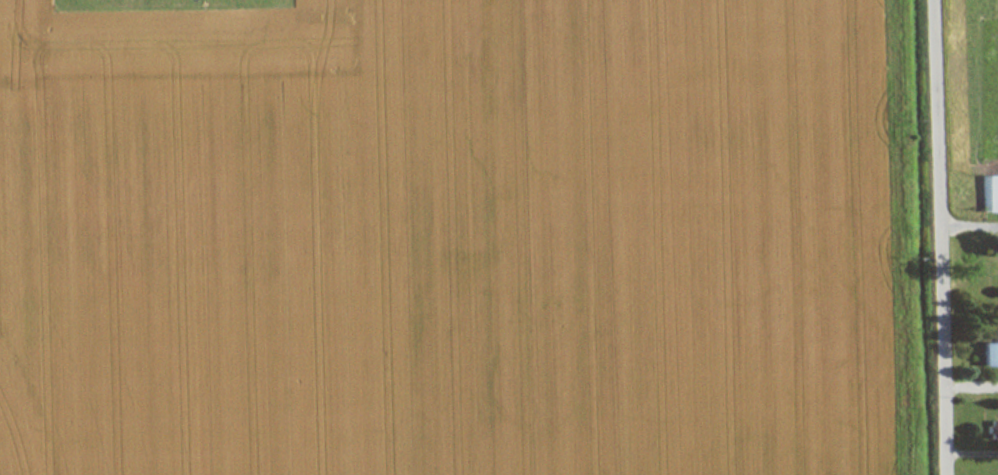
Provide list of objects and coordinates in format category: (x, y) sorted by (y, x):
building: (987, 193)
road: (940, 237)
crop: (440, 239)
building: (988, 353)

